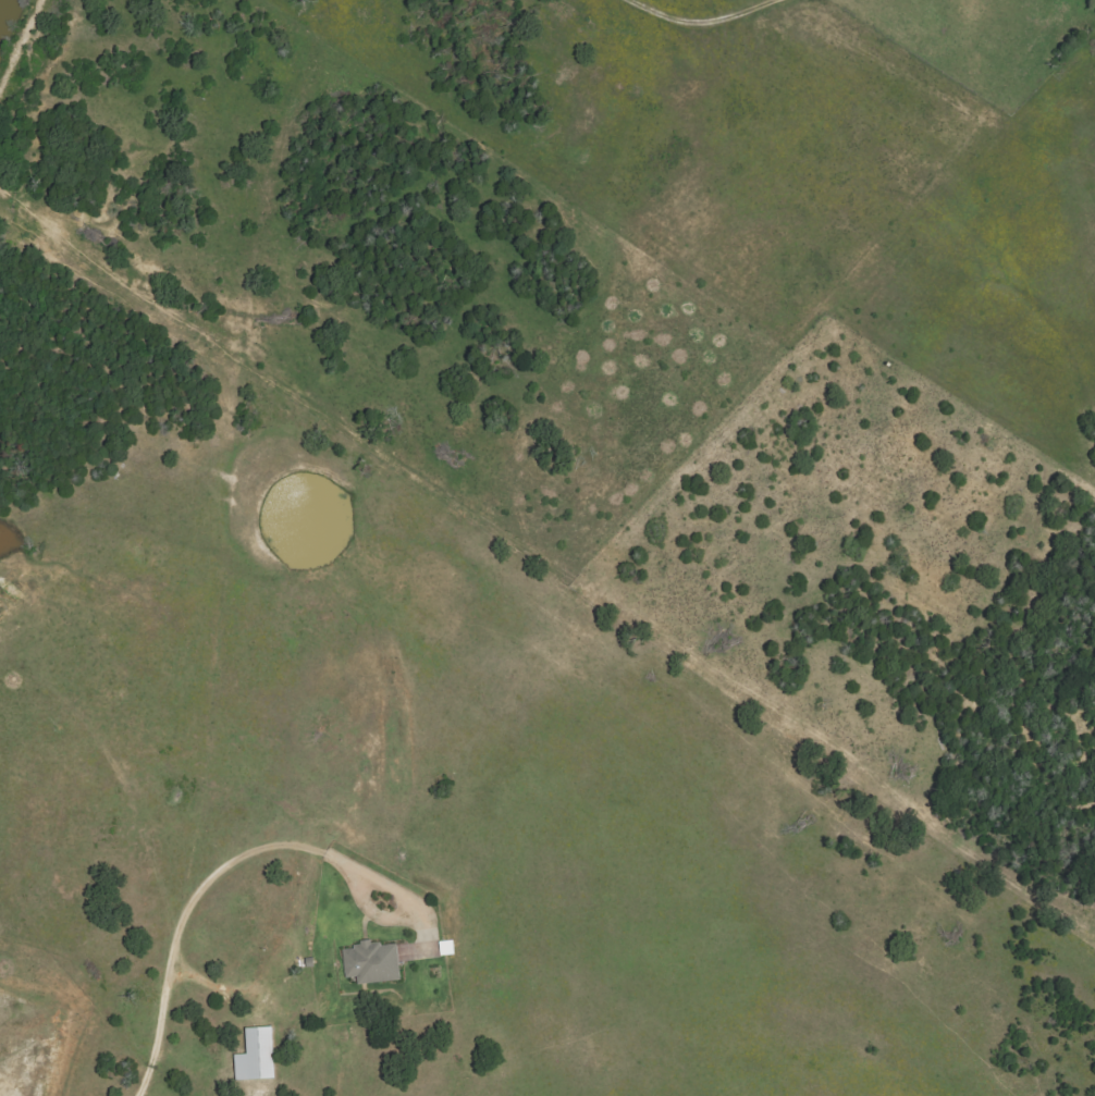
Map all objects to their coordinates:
building: (377, 962)
building: (262, 1055)

